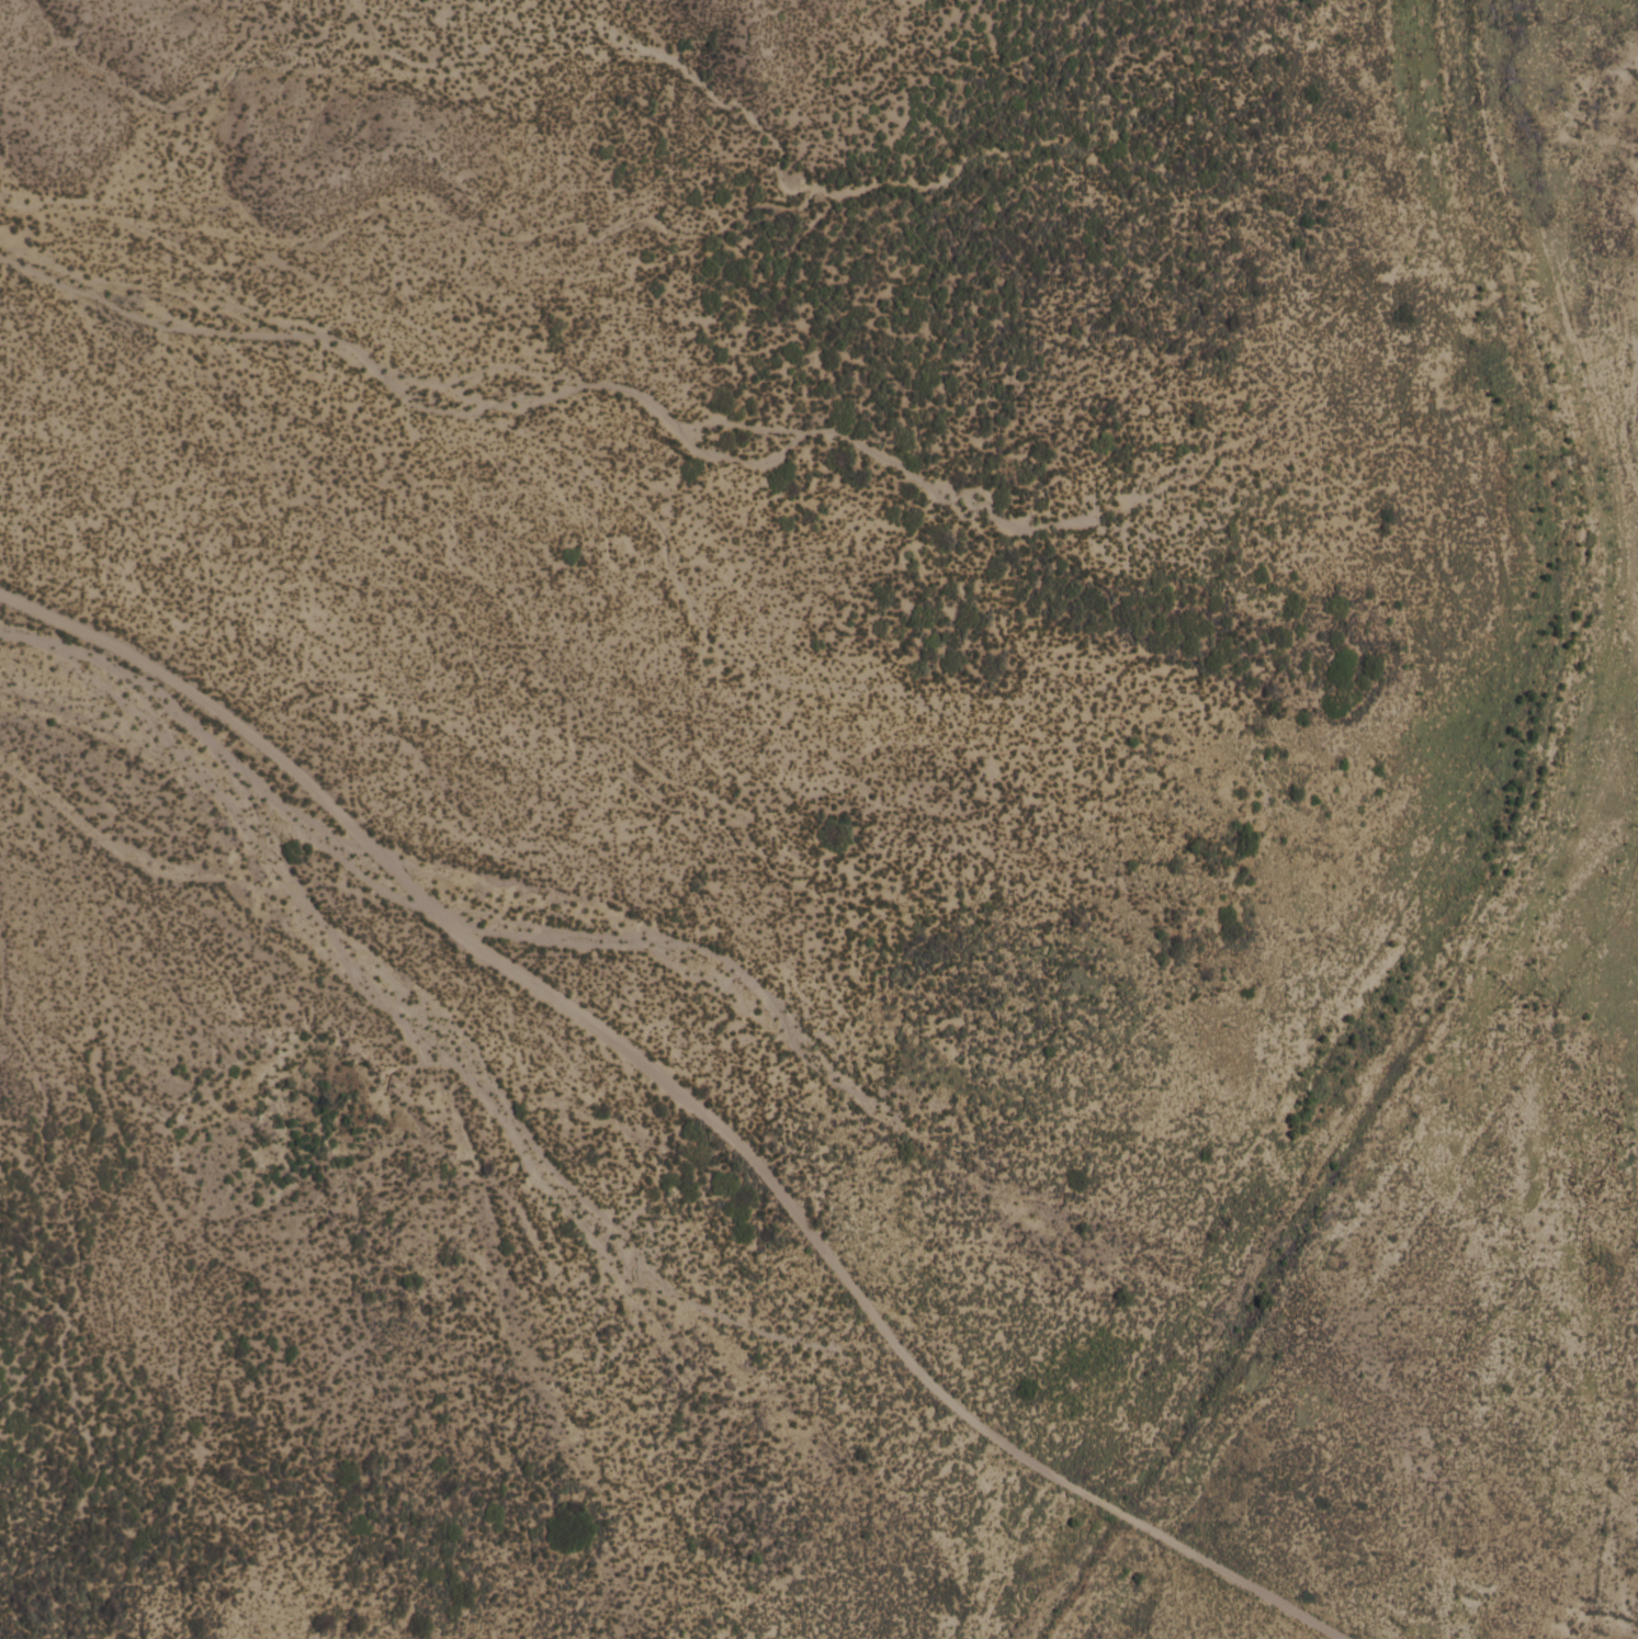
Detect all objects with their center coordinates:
road: (682, 1101)

